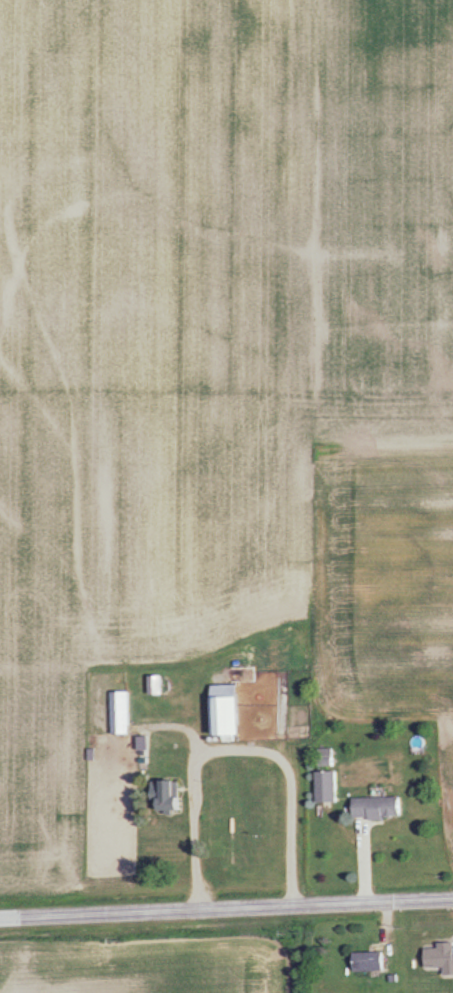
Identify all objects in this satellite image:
building: (159, 685)
building: (232, 711)
building: (122, 712)
road: (238, 748)
building: (329, 786)
building: (173, 795)
building: (380, 807)
road: (226, 908)
building: (441, 955)
building: (373, 961)

